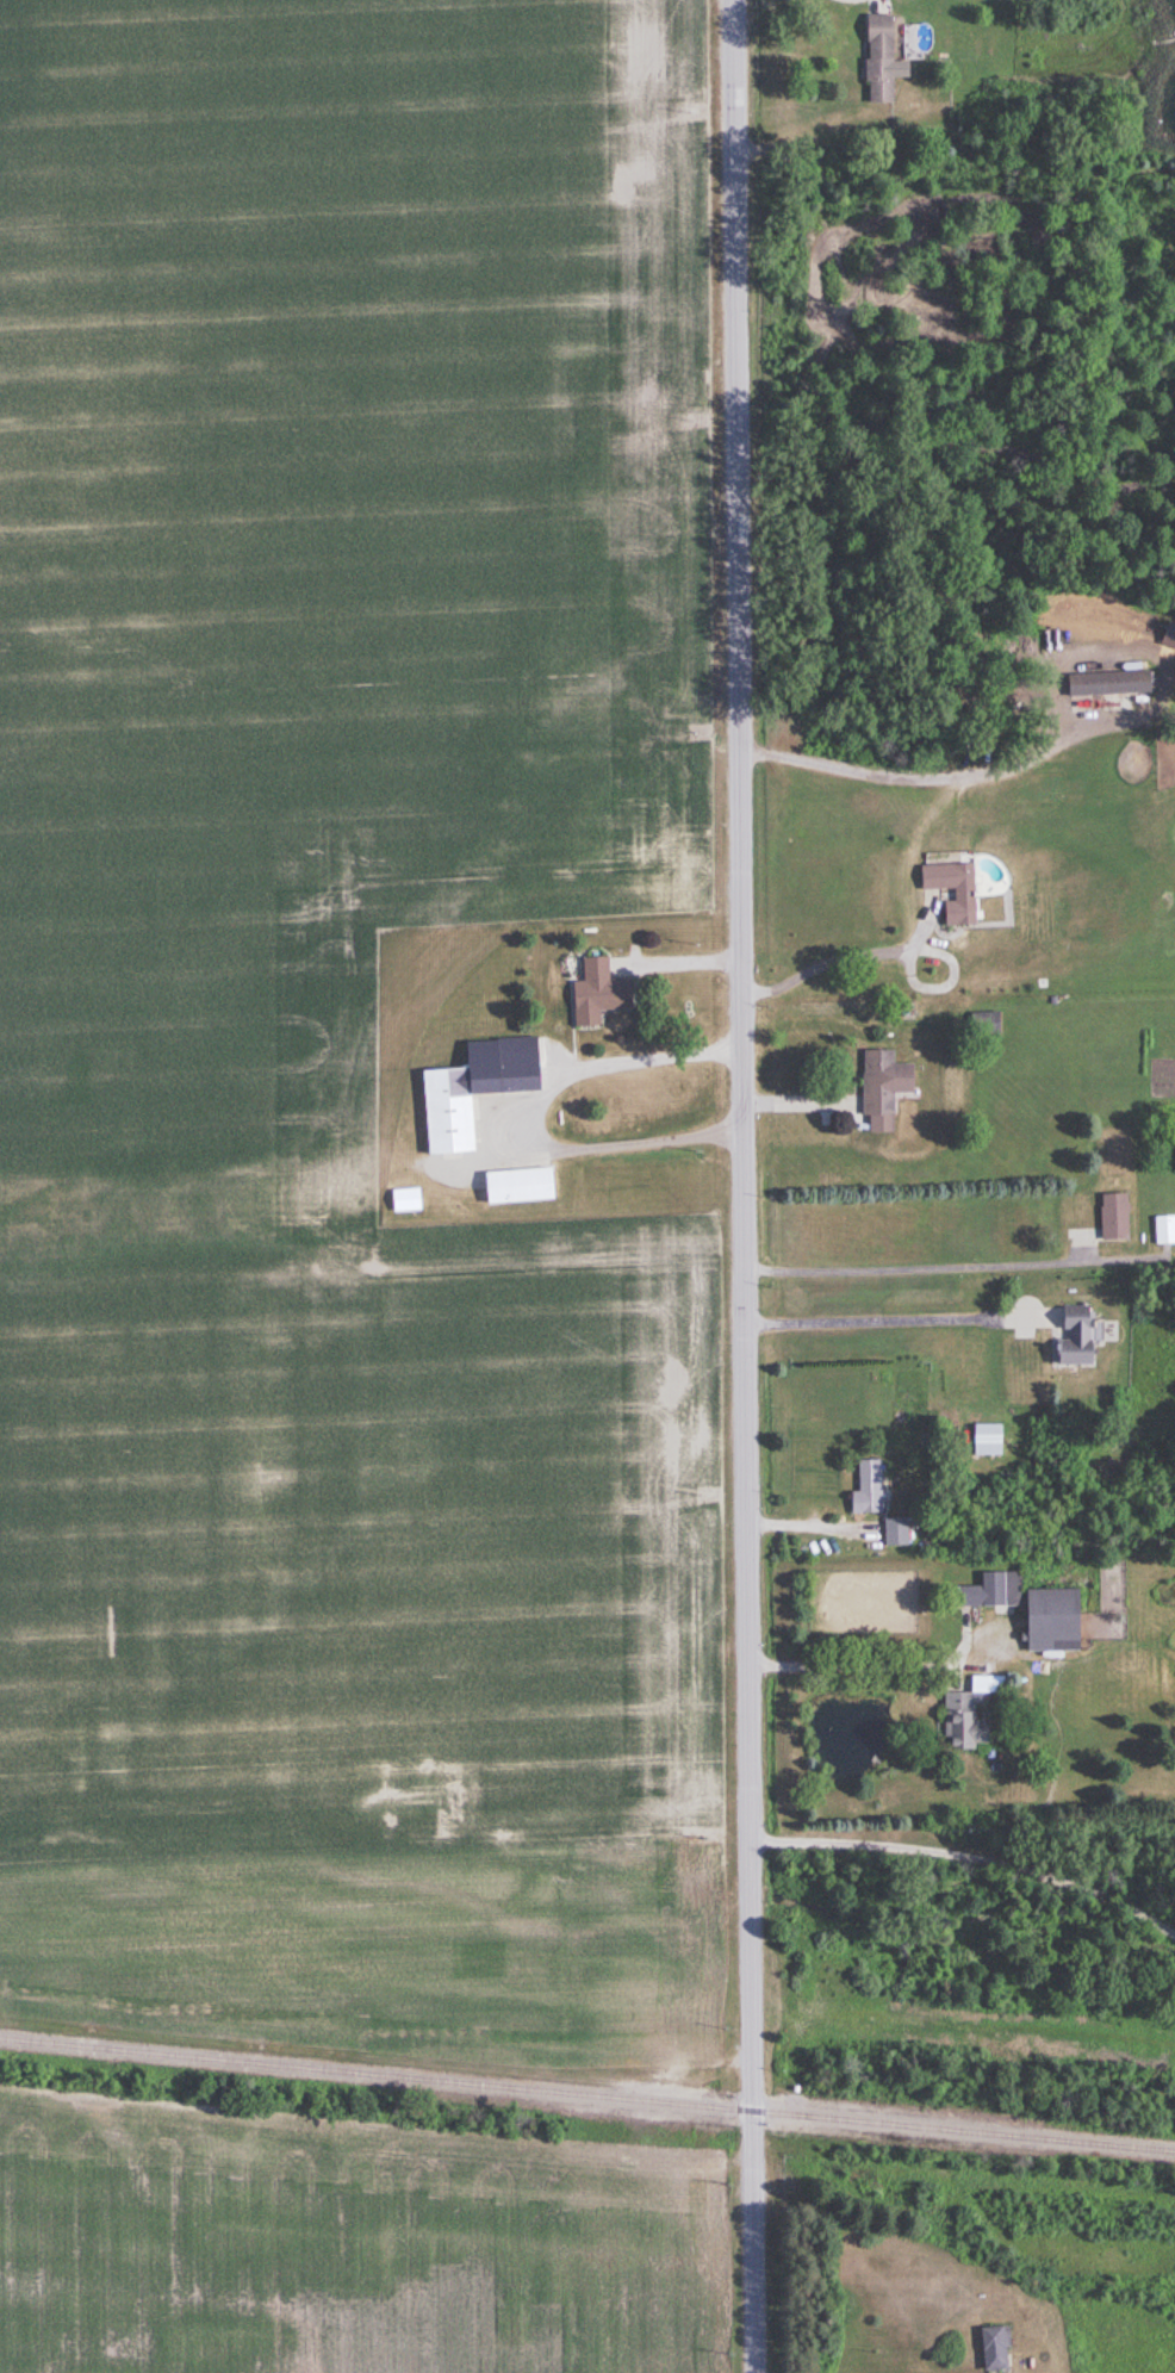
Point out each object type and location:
building: (877, 60)
building: (1108, 683)
road: (910, 778)
building: (963, 894)
road: (678, 959)
road: (837, 961)
building: (597, 993)
building: (983, 1023)
building: (882, 1088)
building: (472, 1092)
road: (531, 1113)
building: (518, 1186)
road: (745, 1186)
building: (405, 1199)
building: (1113, 1217)
building: (1164, 1230)
road: (889, 1319)
building: (1073, 1337)
building: (987, 1439)
building: (866, 1487)
building: (895, 1530)
building: (990, 1591)
building: (1050, 1621)
road: (875, 1663)
building: (962, 1723)
road: (969, 1852)
railway: (587, 2094)
building: (993, 2348)

